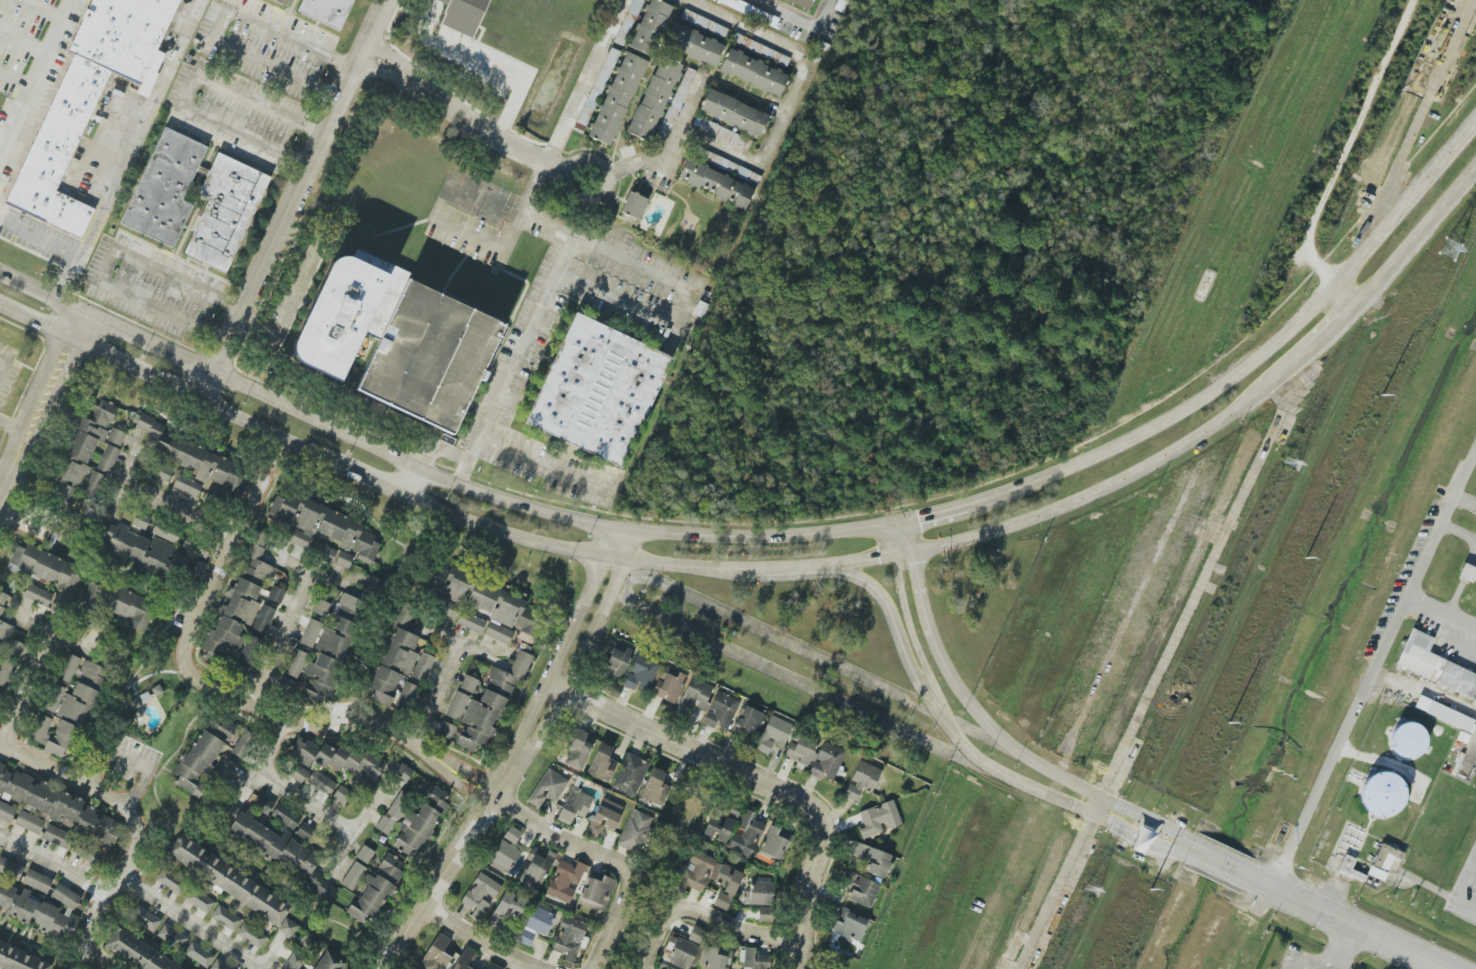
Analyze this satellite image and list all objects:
building: (283, 1)
building: (801, 3)
road: (410, 7)
building: (635, 7)
road: (41, 8)
building: (745, 9)
building: (327, 11)
road: (781, 14)
road: (819, 14)
building: (463, 15)
building: (704, 23)
road: (221, 25)
building: (649, 27)
parking lot: (20, 31)
building: (122, 34)
road: (22, 40)
building: (693, 44)
building: (760, 50)
road: (482, 64)
building: (753, 72)
road: (33, 73)
road: (201, 81)
road: (585, 81)
road: (12, 86)
building: (616, 98)
building: (653, 98)
building: (674, 105)
building: (733, 112)
building: (722, 133)
road: (776, 133)
road: (514, 146)
building: (59, 150)
road: (130, 152)
road: (1342, 159)
building: (718, 178)
building: (165, 188)
road: (291, 199)
building: (633, 205)
building: (225, 211)
road: (1415, 237)
road: (36, 239)
power tower: (1448, 249)
road: (103, 267)
road: (679, 287)
building: (329, 310)
road: (1332, 329)
building: (422, 353)
parking garage: (422, 353)
road: (1248, 356)
road: (2, 366)
road: (512, 366)
road: (179, 390)
building: (591, 390)
road: (41, 401)
road: (13, 428)
building: (110, 451)
road: (447, 452)
building: (80, 454)
road: (1474, 455)
building: (196, 459)
power tower: (1292, 463)
road: (543, 465)
building: (162, 474)
road: (436, 474)
road: (407, 480)
road: (122, 481)
building: (92, 485)
road: (379, 485)
building: (187, 486)
road: (177, 507)
road: (935, 515)
building: (140, 521)
building: (320, 525)
road: (789, 525)
road: (26, 527)
building: (165, 532)
road: (1457, 533)
road: (612, 543)
building: (321, 551)
building: (157, 552)
building: (344, 560)
road: (876, 560)
building: (43, 567)
building: (1467, 573)
road: (313, 577)
building: (276, 594)
building: (37, 595)
building: (3, 601)
building: (485, 602)
building: (239, 603)
building: (53, 604)
building: (129, 607)
road: (1441, 607)
building: (321, 608)
building: (449, 609)
building: (262, 620)
road: (576, 620)
building: (470, 622)
road: (595, 627)
road: (892, 629)
building: (3, 633)
building: (310, 633)
road: (58, 636)
road: (468, 640)
road: (279, 642)
building: (15, 648)
building: (249, 650)
building: (332, 651)
building: (395, 656)
building: (615, 660)
building: (295, 663)
building: (1433, 664)
road: (1371, 665)
building: (422, 666)
building: (67, 668)
building: (6, 672)
building: (640, 673)
building: (669, 686)
building: (285, 687)
road: (24, 690)
road: (436, 690)
building: (82, 694)
building: (0, 695)
road: (220, 695)
building: (406, 696)
building: (461, 697)
building: (694, 697)
building: (53, 698)
building: (490, 704)
building: (721, 711)
building: (1444, 714)
building: (748, 722)
road: (982, 723)
building: (40, 729)
building: (223, 729)
building: (446, 731)
building: (773, 734)
building: (60, 739)
building: (1407, 741)
road: (958, 743)
building: (244, 744)
road: (687, 747)
building: (577, 749)
road: (130, 757)
building: (814, 757)
building: (347, 760)
building: (602, 763)
building: (202, 764)
building: (298, 774)
building: (630, 775)
building: (861, 780)
building: (321, 783)
building: (12, 784)
building: (655, 787)
building: (547, 788)
road: (286, 790)
building: (341, 794)
building: (1382, 794)
building: (53, 804)
building: (574, 805)
building: (278, 811)
building: (6, 812)
building: (393, 813)
building: (604, 817)
building: (878, 819)
building: (29, 822)
building: (420, 823)
building: (721, 824)
road: (132, 826)
building: (99, 827)
road: (359, 829)
road: (472, 830)
building: (635, 831)
building: (305, 832)
building: (745, 835)
building: (57, 837)
road: (1177, 843)
building: (274, 845)
building: (774, 845)
road: (581, 848)
building: (505, 850)
building: (364, 854)
park: (665, 858)
building: (872, 859)
road: (1212, 859)
road: (1471, 860)
building: (1383, 861)
road: (53, 864)
building: (534, 868)
building: (10, 869)
building: (1349, 869)
building: (696, 871)
building: (353, 876)
road: (1252, 878)
building: (228, 880)
building: (565, 880)
power tower: (1097, 880)
parking lot: (1463, 880)
building: (37, 881)
building: (170, 881)
building: (726, 885)
building: (860, 888)
building: (375, 890)
road: (806, 890)
road: (1458, 891)
building: (596, 892)
building: (760, 894)
building: (480, 895)
building: (199, 901)
building: (506, 909)
building: (42, 910)
building: (764, 914)
building: (145, 918)
building: (225, 918)
road: (711, 919)
road: (189, 923)
building: (849, 924)
building: (535, 925)
road: (1357, 926)
building: (289, 928)
building: (251, 935)
building: (697, 935)
building: (172, 936)
building: (568, 938)
road: (480, 940)
road: (603, 946)
road: (1339, 948)
building: (680, 950)
building: (136, 952)
building: (199, 954)
road: (271, 954)
building: (437, 954)
building: (20, 958)
building: (714, 958)
building: (753, 959)
building: (464, 960)
road: (1313, 960)
building: (293, 961)
building: (327, 961)
road: (641, 962)
building: (219, 965)
building: (493, 966)

